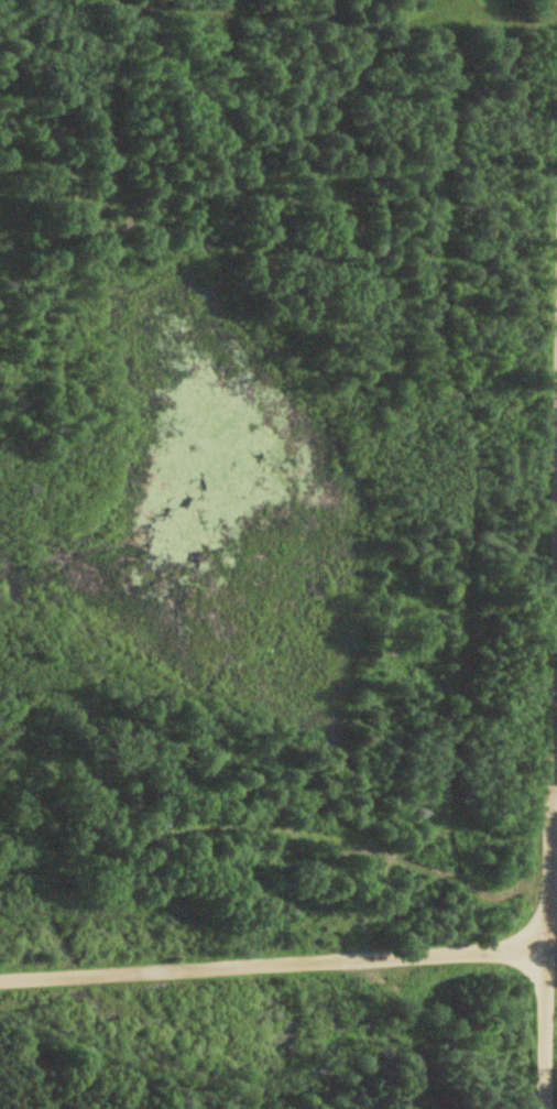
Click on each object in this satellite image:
road: (547, 813)
river: (28, 891)
river: (69, 967)
road: (271, 967)
river: (535, 1029)
river: (294, 1043)

